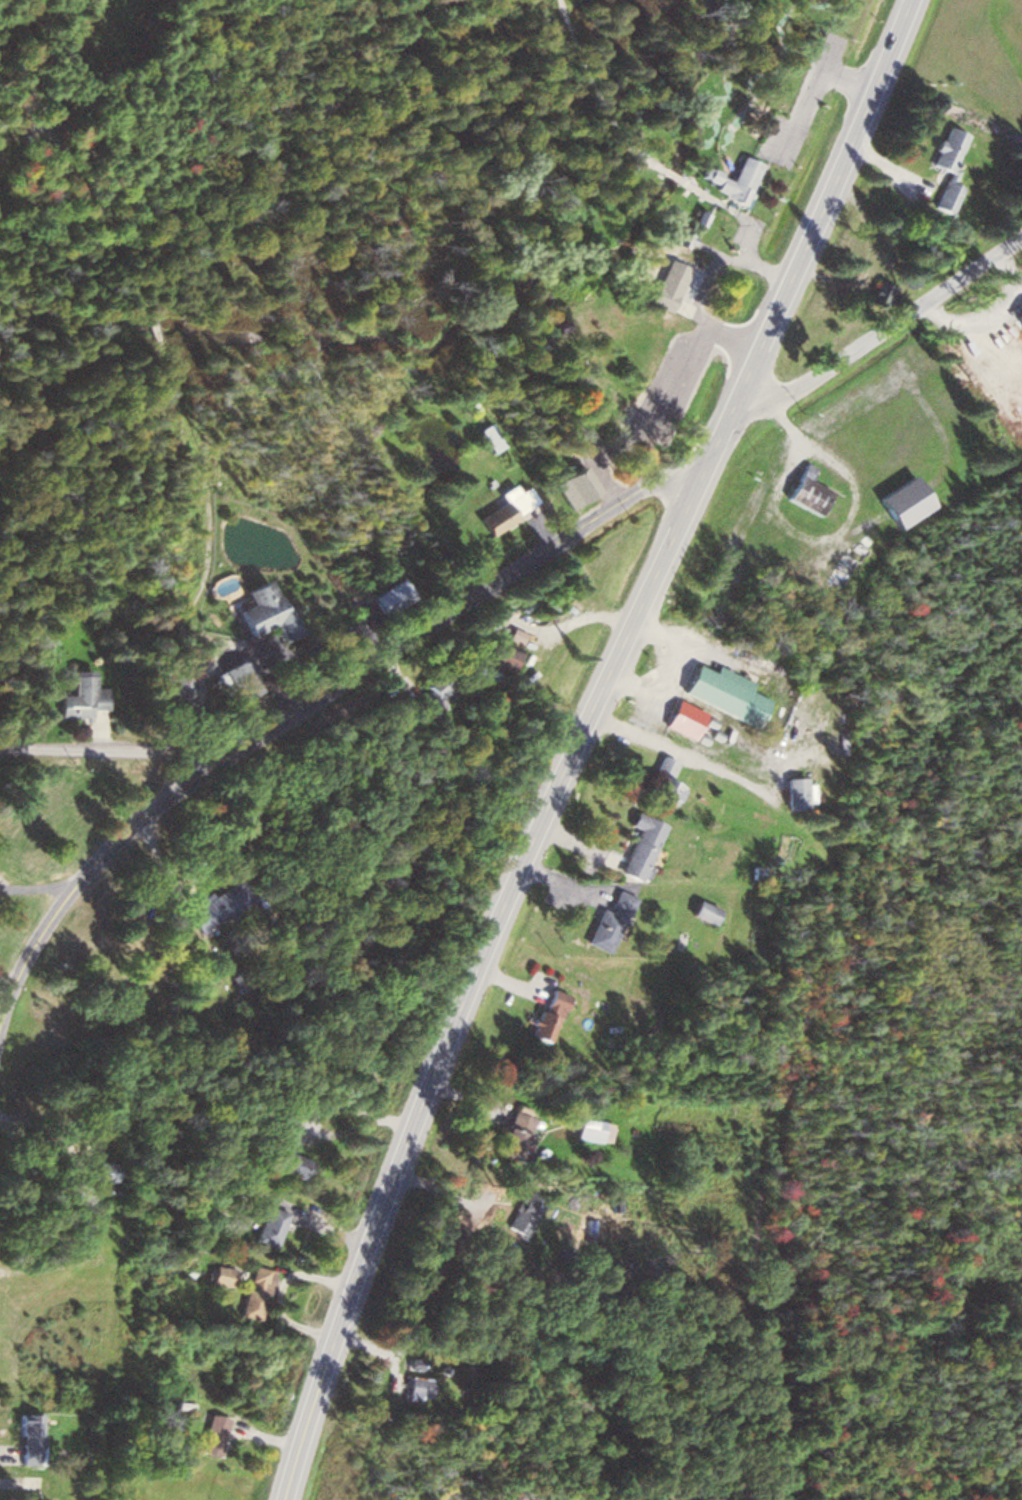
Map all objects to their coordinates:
park: (973, 50)
building: (944, 167)
building: (732, 179)
road: (817, 207)
building: (683, 238)
building: (669, 281)
building: (874, 294)
building: (549, 322)
road: (876, 330)
building: (489, 436)
road: (710, 439)
building: (571, 486)
building: (799, 490)
building: (501, 509)
building: (834, 569)
building: (384, 598)
building: (259, 613)
building: (513, 635)
building: (493, 653)
building: (177, 690)
building: (720, 693)
building: (432, 695)
building: (75, 699)
road: (310, 699)
building: (679, 718)
road: (113, 753)
building: (659, 780)
building: (793, 792)
building: (638, 846)
building: (209, 904)
building: (701, 911)
building: (605, 919)
road: (467, 974)
building: (539, 1015)
building: (276, 1125)
building: (586, 1129)
building: (505, 1132)
building: (285, 1164)
building: (102, 1172)
building: (75, 1224)
building: (264, 1224)
building: (217, 1274)
building: (253, 1291)
building: (418, 1387)
building: (213, 1434)
building: (26, 1438)
building: (25, 1480)
building: (44, 1497)

